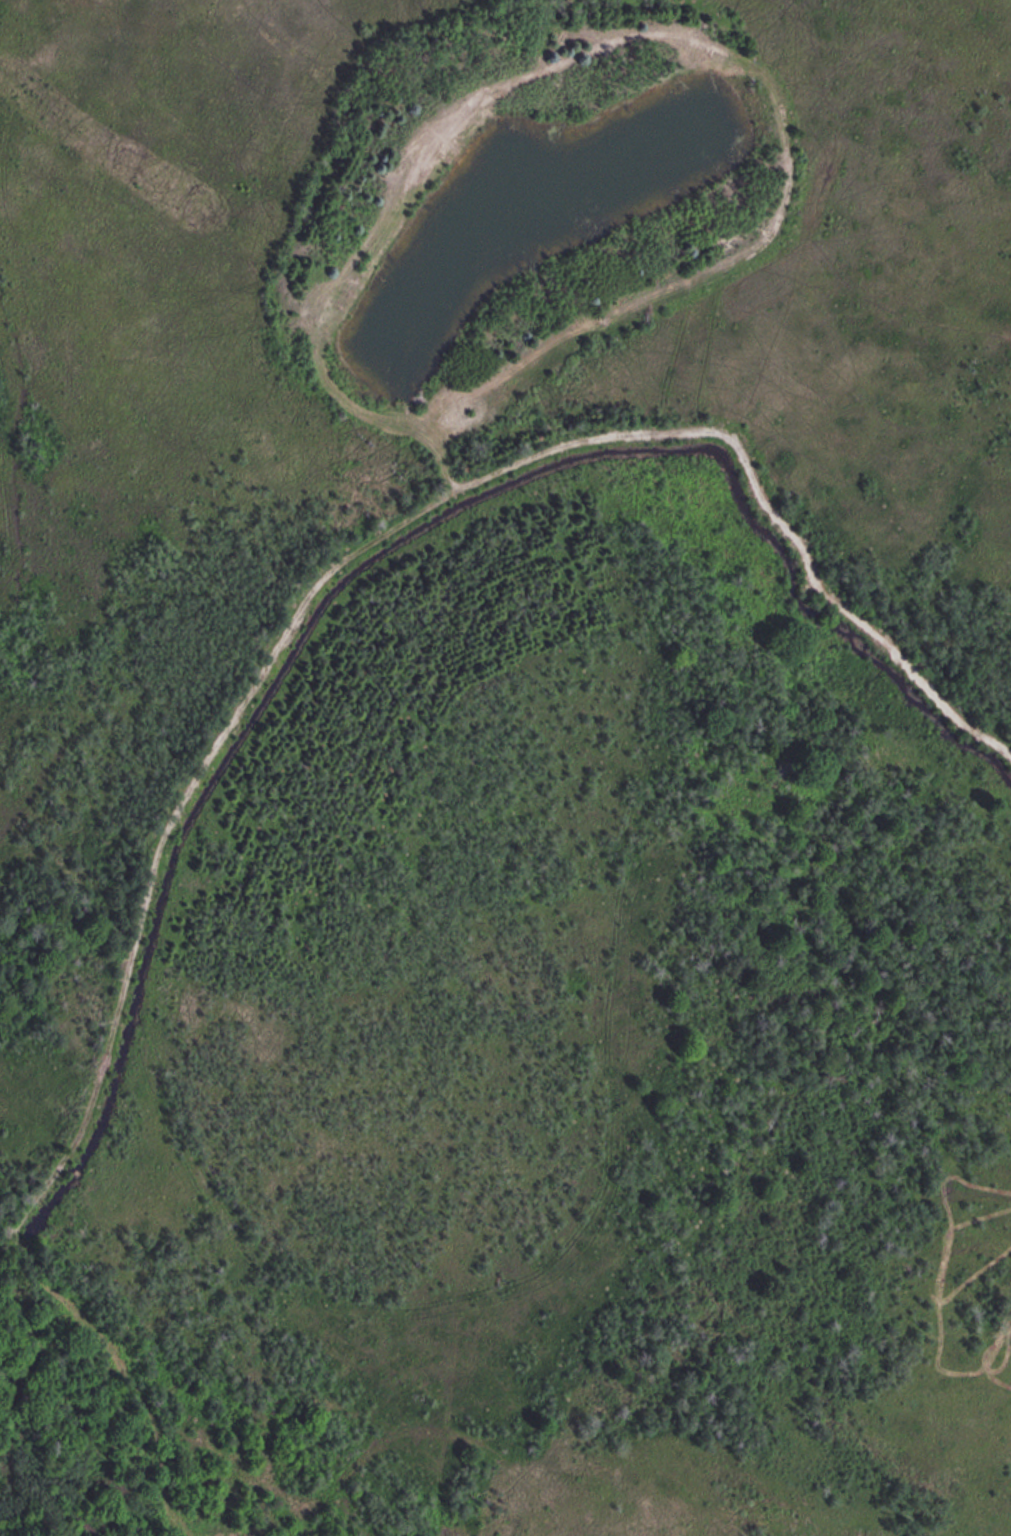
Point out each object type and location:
road: (382, 538)

